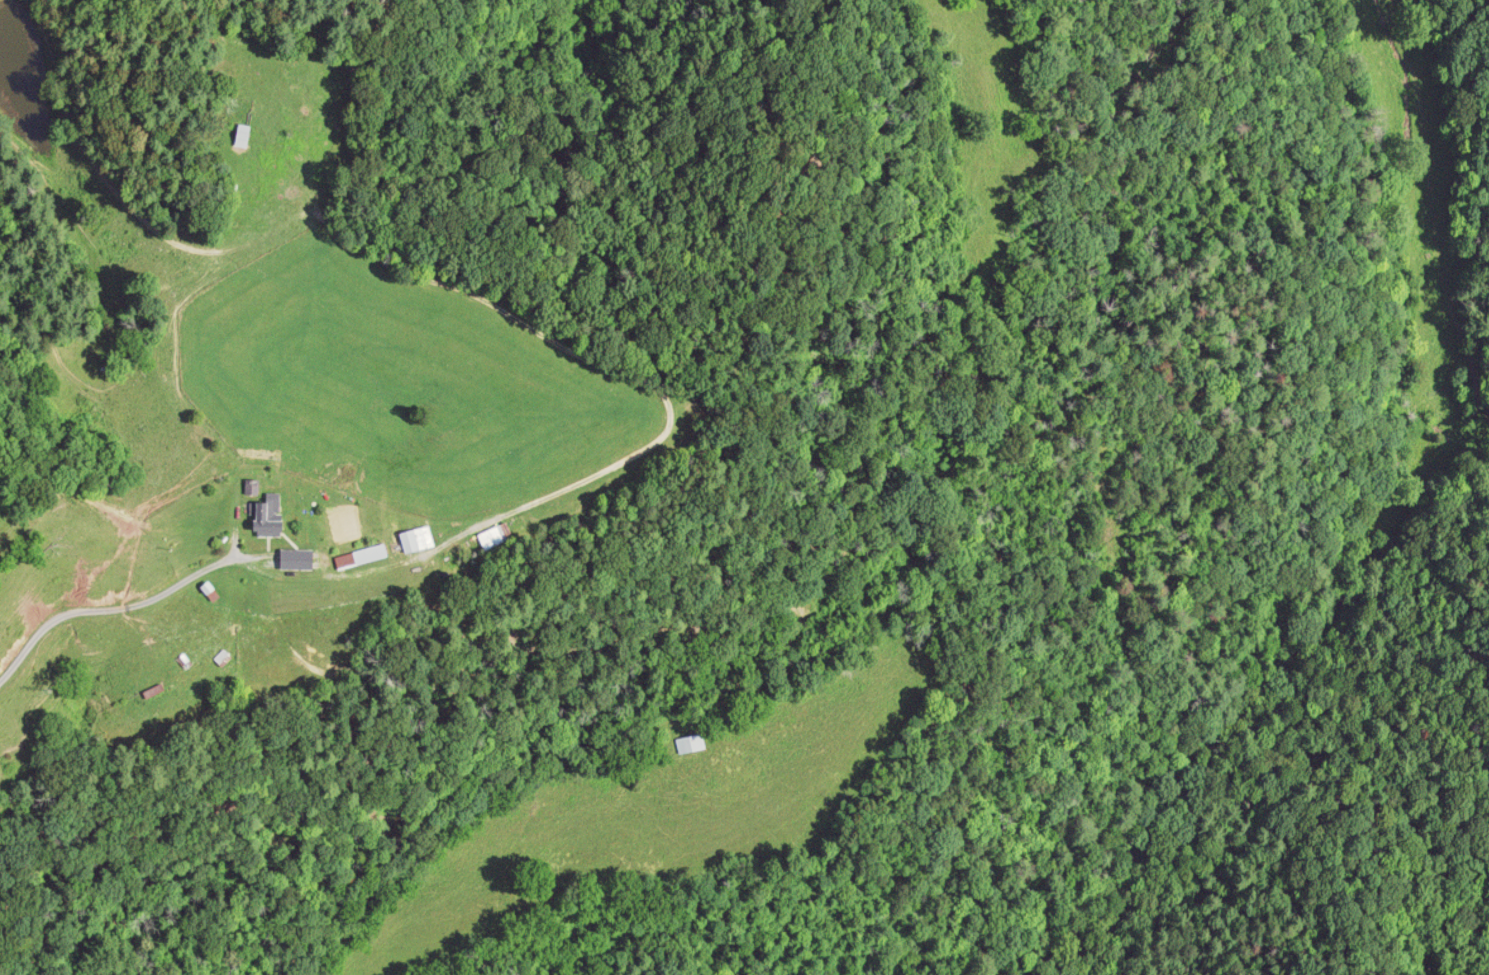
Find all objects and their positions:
building: (240, 139)
building: (267, 518)
building: (415, 542)
building: (359, 559)
building: (294, 561)
road: (112, 610)
building: (152, 694)
building: (688, 746)

